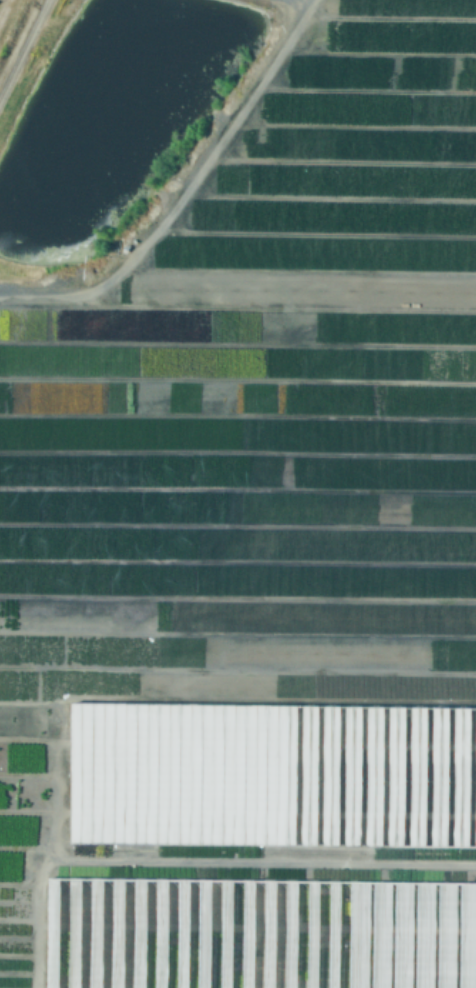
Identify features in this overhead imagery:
road: (305, 0)
road: (24, 50)
building: (105, 726)
building: (126, 933)

